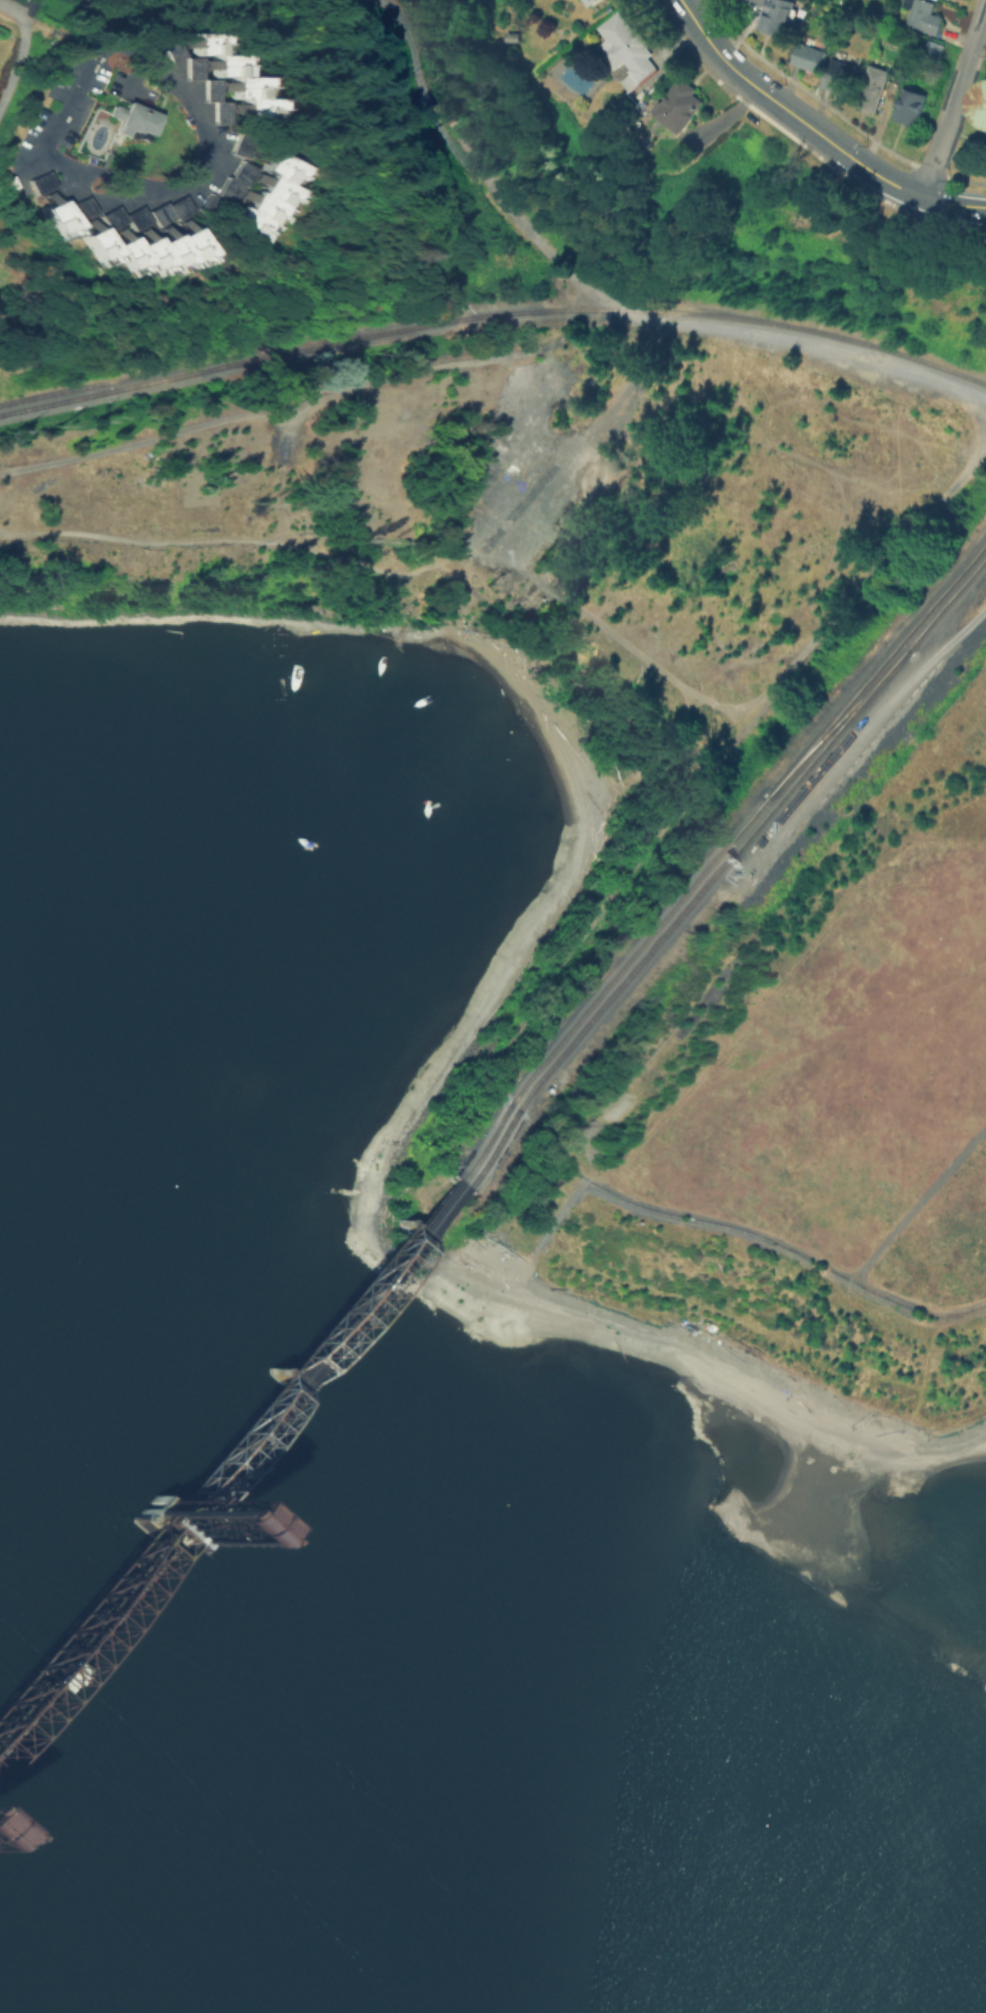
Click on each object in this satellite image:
building: (759, 2)
building: (591, 3)
road: (13, 9)
building: (924, 15)
building: (780, 16)
road: (100, 17)
road: (38, 25)
road: (979, 26)
road: (111, 35)
road: (81, 37)
building: (173, 46)
building: (934, 48)
building: (628, 51)
building: (812, 57)
road: (16, 64)
building: (195, 66)
building: (237, 74)
building: (841, 76)
road: (136, 77)
road: (751, 83)
parking lot: (133, 87)
building: (871, 87)
building: (643, 95)
building: (218, 98)
road: (139, 101)
parking lot: (65, 102)
building: (985, 102)
building: (912, 105)
building: (681, 107)
building: (984, 111)
building: (133, 117)
road: (947, 121)
building: (243, 145)
road: (460, 146)
road: (107, 158)
road: (29, 159)
road: (4, 165)
road: (878, 176)
building: (234, 180)
building: (39, 182)
building: (261, 196)
building: (206, 204)
road: (953, 205)
building: (76, 206)
building: (163, 209)
building: (54, 214)
building: (115, 216)
building: (138, 245)
road: (604, 300)
railway: (492, 313)
road: (644, 347)
road: (821, 349)
railway: (194, 361)
road: (540, 398)
road: (275, 404)
road: (627, 419)
road: (896, 455)
road: (937, 497)
road: (361, 562)
railway: (945, 602)
road: (819, 627)
railway: (879, 665)
railway: (838, 721)
road: (868, 727)
railway: (677, 917)
railway: (607, 984)
road: (775, 1238)
road: (917, 1304)
railway: (298, 1349)
railway: (306, 1356)
building: (159, 1522)
railway: (76, 1608)
railway: (80, 1622)
river: (307, 1736)

